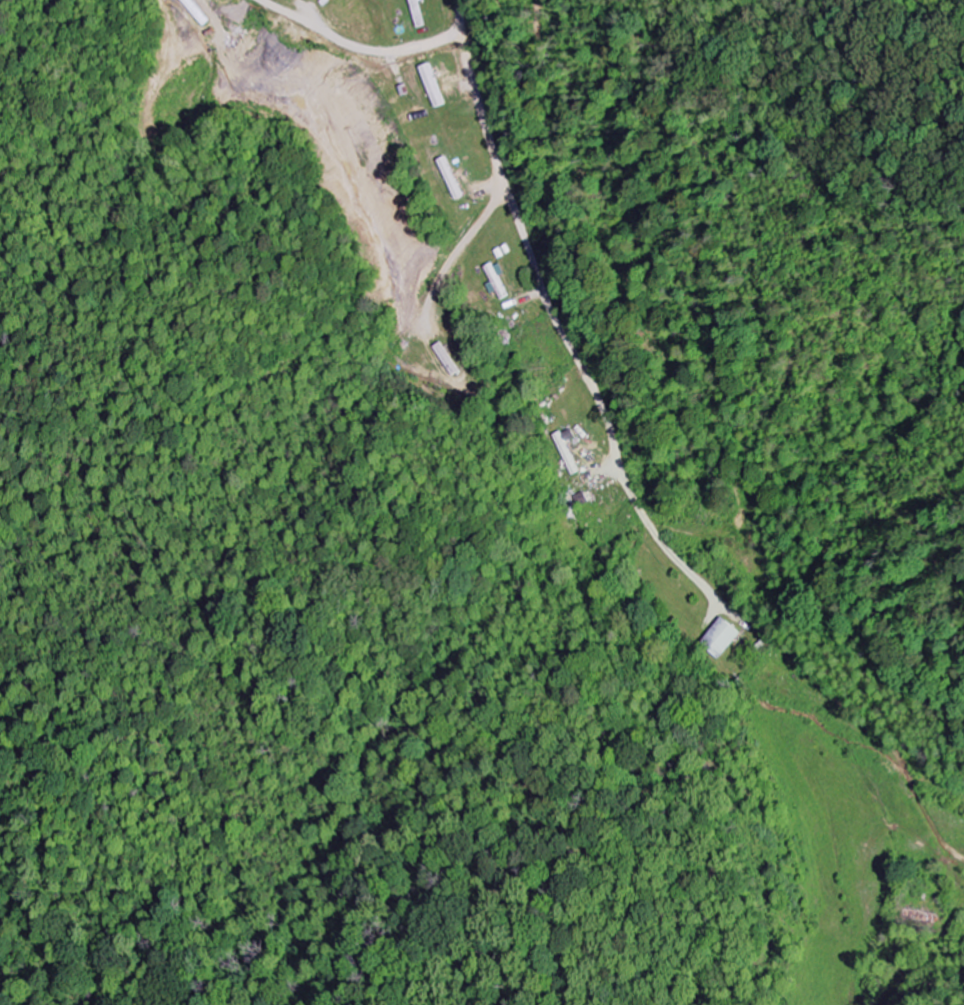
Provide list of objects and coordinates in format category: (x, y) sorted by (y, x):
building: (436, 85)
building: (499, 281)
building: (569, 450)
building: (722, 636)

